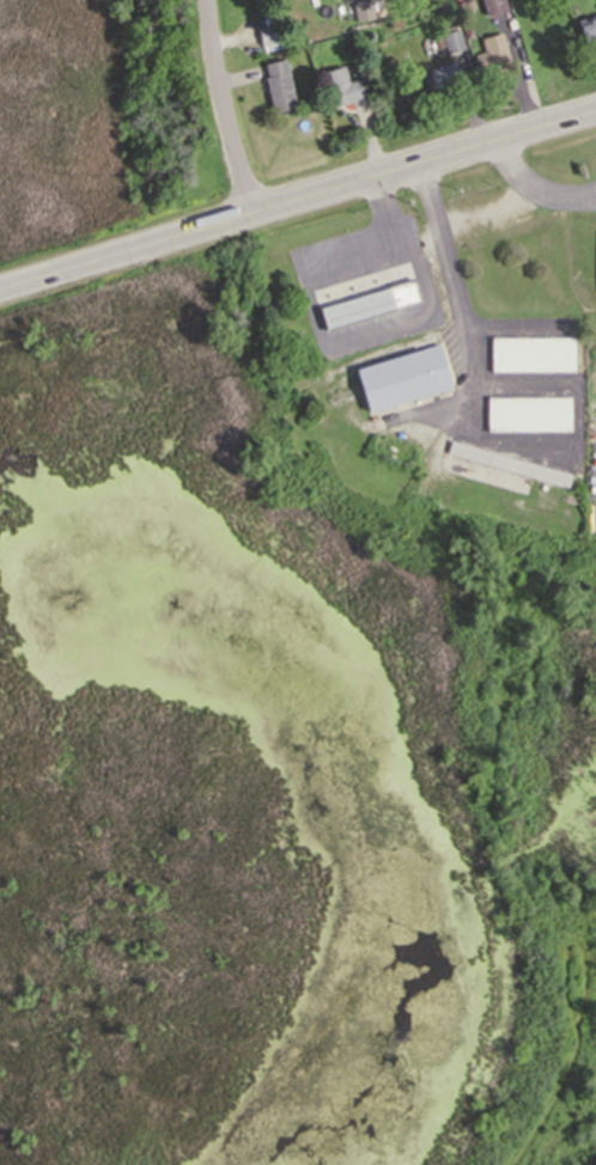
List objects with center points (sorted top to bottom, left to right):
building: (458, 4)
building: (468, 4)
building: (493, 6)
building: (446, 7)
building: (359, 8)
building: (378, 12)
building: (588, 24)
building: (266, 31)
building: (448, 38)
building: (488, 55)
building: (442, 75)
building: (280, 80)
building: (340, 85)
road: (224, 106)
road: (536, 191)
road: (296, 200)
building: (367, 309)
building: (535, 350)
building: (405, 370)
building: (530, 408)
road: (474, 433)
building: (512, 457)

